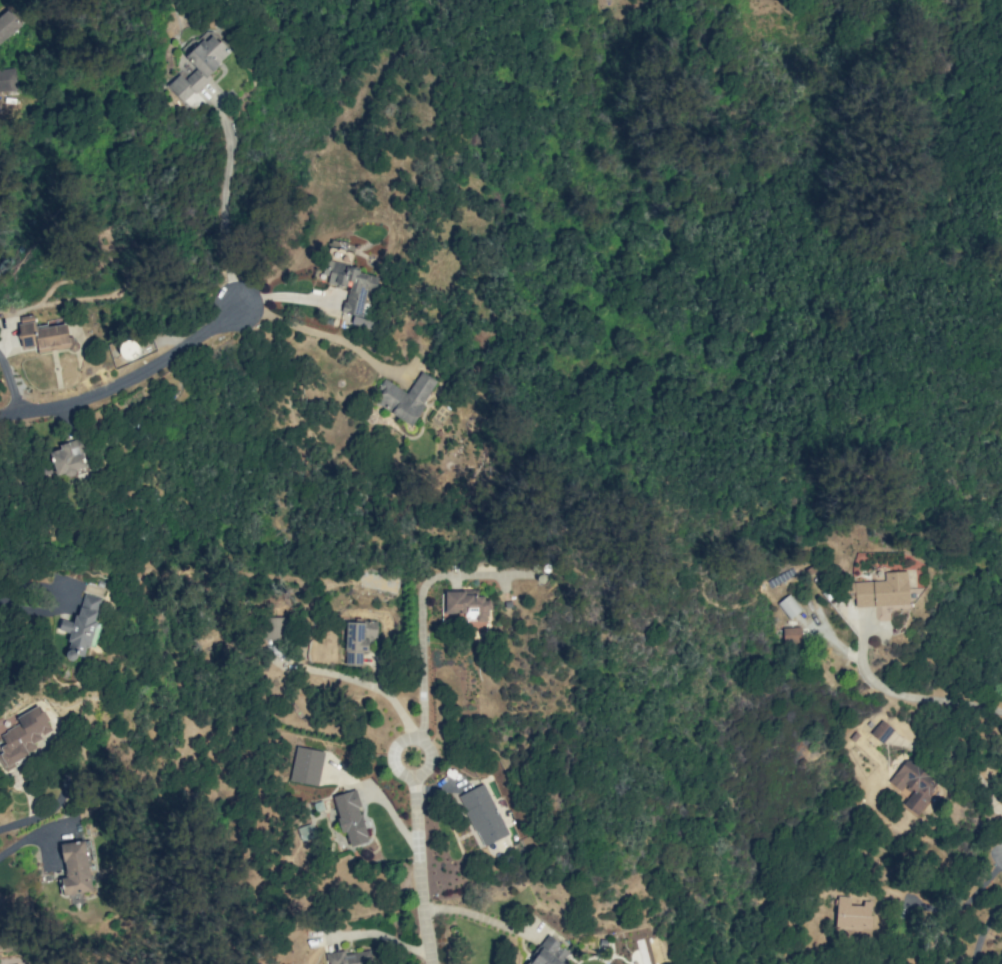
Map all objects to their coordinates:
building: (8, 24)
building: (199, 69)
road: (223, 200)
building: (352, 288)
road: (315, 334)
building: (44, 336)
building: (127, 350)
road: (124, 379)
building: (405, 397)
building: (68, 458)
building: (882, 591)
road: (31, 603)
building: (466, 604)
building: (788, 606)
building: (81, 627)
building: (278, 627)
building: (792, 634)
building: (357, 640)
road: (901, 694)
building: (881, 731)
building: (24, 735)
road: (424, 735)
building: (306, 766)
building: (913, 784)
road: (44, 813)
building: (483, 814)
building: (350, 817)
road: (17, 845)
building: (75, 868)
road: (963, 904)
building: (852, 914)
road: (482, 917)
road: (983, 927)
building: (549, 953)
building: (349, 957)

